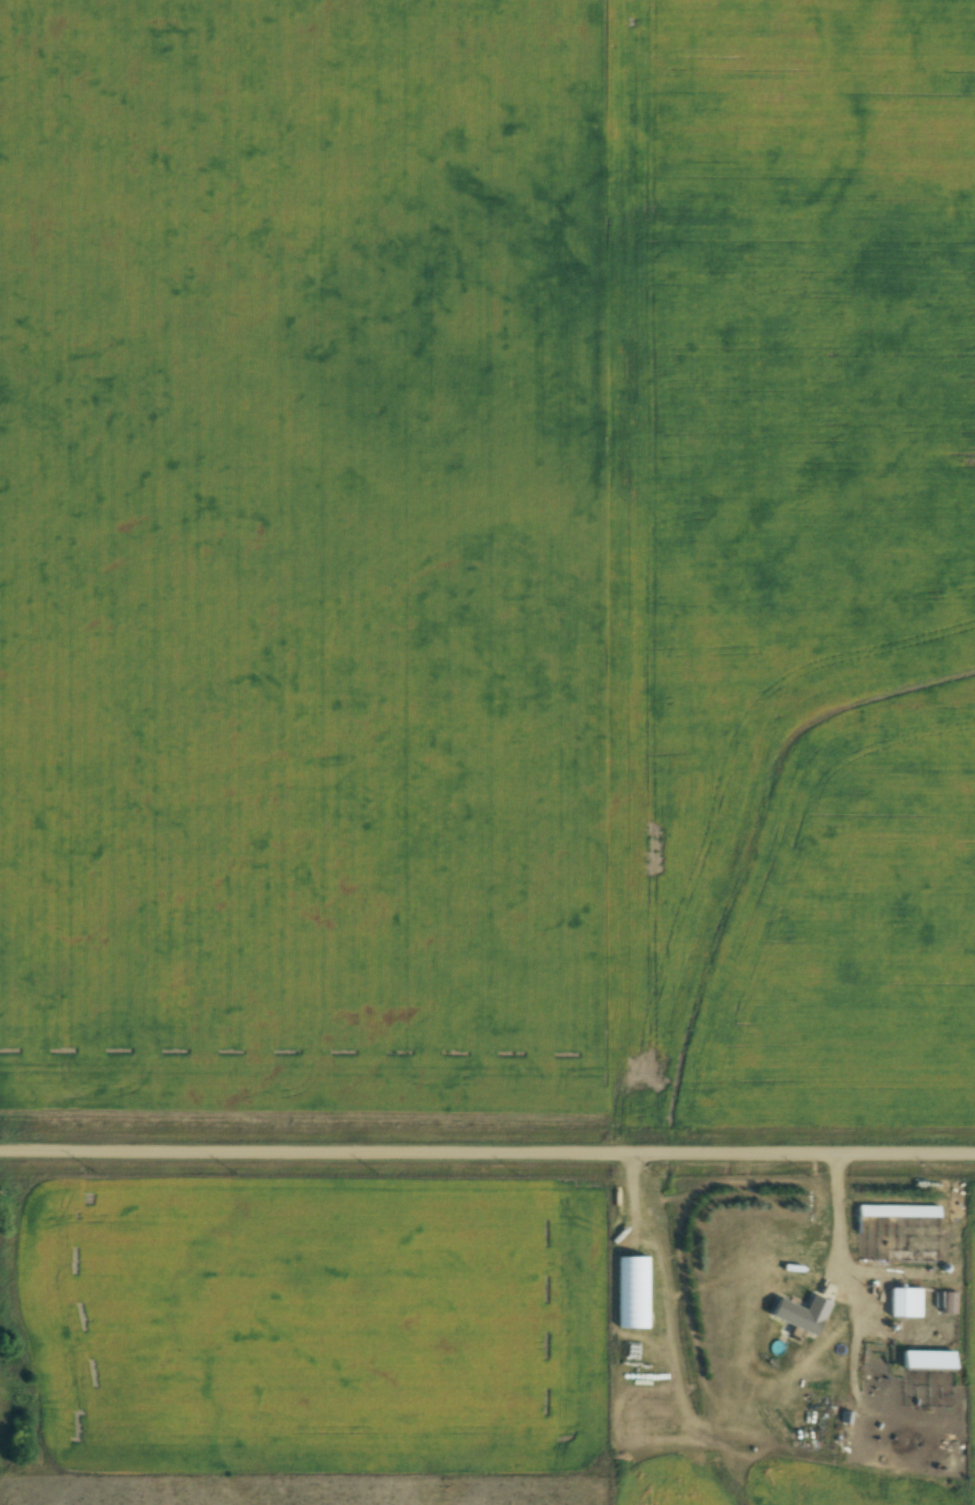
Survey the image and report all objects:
road: (487, 1146)
road: (628, 1185)
road: (832, 1209)
building: (902, 1299)
building: (797, 1316)

